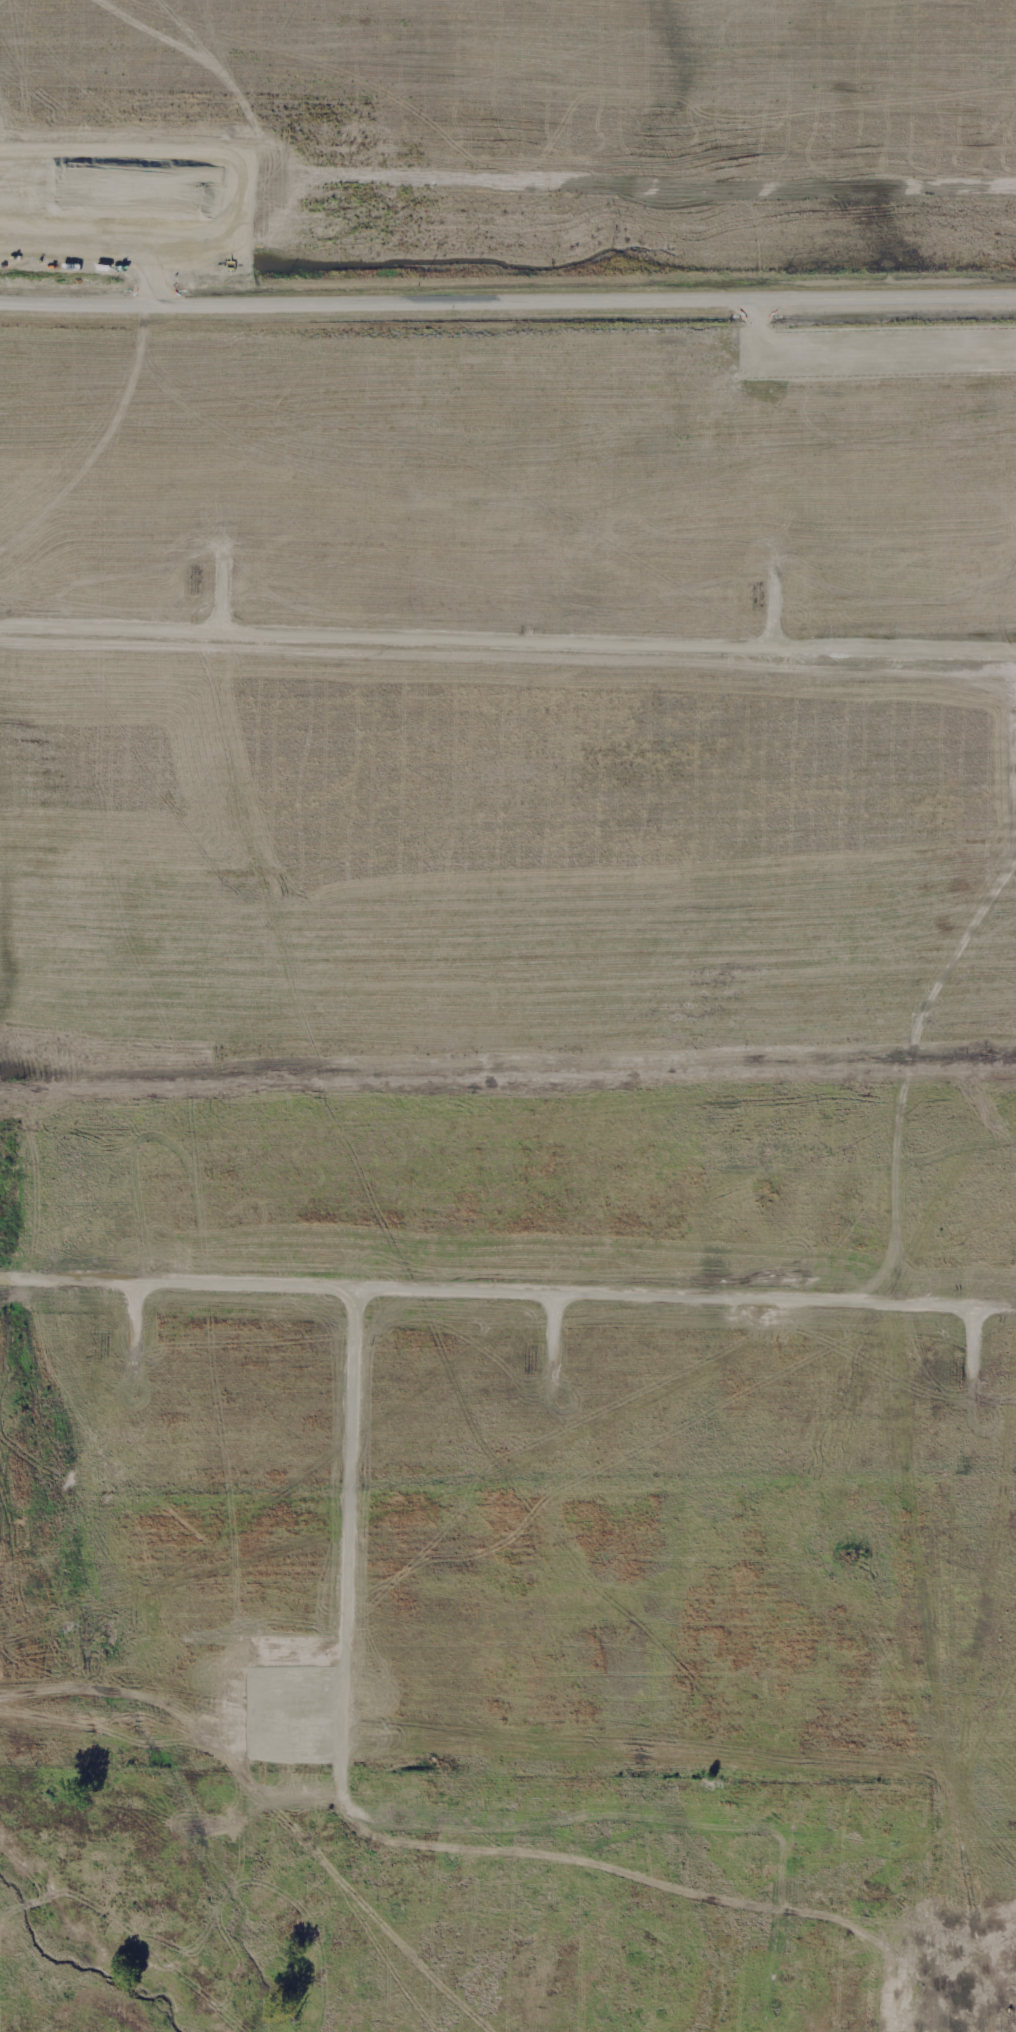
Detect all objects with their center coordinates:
road: (507, 303)

